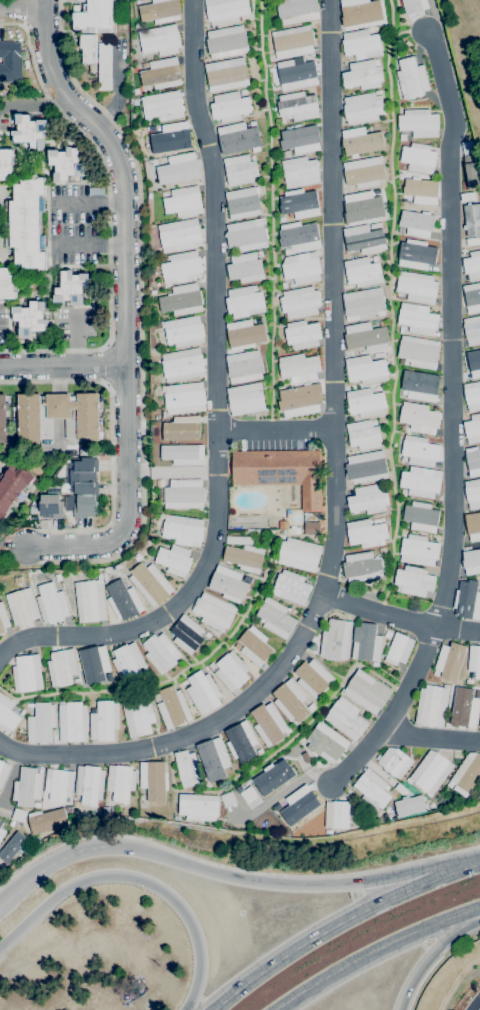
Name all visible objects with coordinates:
building: (414, 6)
road: (21, 9)
building: (225, 10)
building: (160, 11)
building: (297, 11)
building: (360, 12)
road: (24, 13)
building: (93, 17)
building: (375, 29)
building: (159, 40)
building: (226, 42)
building: (293, 42)
building: (407, 43)
building: (361, 44)
building: (88, 48)
building: (10, 61)
building: (104, 66)
building: (161, 73)
building: (226, 74)
building: (296, 74)
building: (362, 75)
building: (411, 78)
building: (0, 85)
building: (377, 91)
building: (135, 101)
road: (33, 106)
building: (162, 106)
building: (229, 106)
building: (297, 106)
building: (362, 108)
building: (419, 123)
building: (29, 131)
building: (238, 137)
building: (402, 137)
building: (171, 138)
building: (300, 139)
building: (362, 141)
building: (467, 145)
building: (286, 154)
building: (418, 158)
building: (6, 163)
building: (65, 164)
building: (178, 169)
building: (240, 170)
building: (300, 172)
building: (363, 172)
building: (472, 175)
building: (375, 191)
building: (164, 193)
building: (421, 193)
building: (467, 197)
road: (90, 200)
building: (183, 201)
building: (243, 202)
building: (299, 203)
building: (362, 207)
road: (109, 214)
building: (282, 219)
building: (472, 220)
building: (417, 223)
building: (27, 224)
building: (401, 231)
building: (179, 235)
building: (246, 235)
building: (298, 237)
building: (365, 238)
road: (89, 242)
building: (416, 254)
building: (374, 258)
road: (124, 262)
building: (472, 265)
building: (181, 267)
building: (245, 268)
building: (301, 268)
building: (362, 272)
building: (7, 284)
building: (71, 287)
building: (416, 287)
building: (472, 297)
building: (182, 300)
building: (244, 301)
building: (300, 302)
building: (363, 304)
building: (30, 318)
building: (417, 319)
building: (401, 329)
building: (472, 330)
building: (183, 331)
building: (245, 334)
building: (302, 334)
building: (366, 336)
building: (418, 352)
building: (378, 355)
building: (469, 362)
building: (182, 364)
road: (103, 365)
road: (63, 366)
building: (244, 366)
building: (298, 368)
building: (365, 369)
building: (420, 386)
building: (378, 388)
building: (472, 395)
building: (184, 398)
building: (245, 399)
building: (300, 400)
road: (215, 401)
building: (365, 402)
building: (57, 416)
building: (3, 417)
building: (418, 418)
road: (451, 421)
building: (472, 429)
building: (180, 430)
road: (275, 430)
building: (363, 434)
building: (419, 451)
building: (182, 456)
building: (472, 461)
building: (366, 467)
building: (280, 471)
road: (172, 473)
building: (80, 477)
building: (420, 481)
building: (160, 483)
building: (12, 486)
road: (334, 493)
building: (403, 493)
building: (472, 493)
building: (183, 494)
building: (367, 499)
building: (51, 505)
building: (82, 506)
road: (141, 515)
building: (420, 516)
building: (283, 525)
building: (473, 525)
building: (311, 528)
building: (182, 530)
building: (291, 530)
building: (250, 531)
building: (256, 531)
building: (366, 532)
building: (148, 540)
road: (68, 543)
road: (13, 544)
building: (382, 550)
building: (418, 550)
building: (244, 553)
building: (299, 554)
building: (137, 557)
building: (174, 560)
building: (471, 562)
building: (362, 566)
building: (118, 567)
building: (57, 577)
building: (247, 579)
building: (413, 581)
building: (150, 584)
building: (228, 584)
building: (291, 587)
building: (123, 600)
building: (467, 600)
building: (90, 601)
building: (51, 603)
building: (21, 607)
building: (213, 612)
road: (400, 617)
building: (275, 618)
building: (3, 619)
building: (186, 634)
building: (207, 635)
building: (335, 640)
building: (366, 643)
building: (236, 646)
building: (254, 646)
building: (398, 649)
building: (160, 653)
building: (449, 661)
building: (474, 661)
building: (128, 662)
building: (94, 664)
building: (61, 667)
building: (231, 671)
building: (26, 673)
building: (110, 677)
building: (312, 678)
building: (76, 680)
building: (183, 682)
building: (203, 692)
building: (367, 692)
building: (477, 694)
building: (290, 701)
building: (29, 705)
building: (432, 706)
building: (172, 707)
building: (310, 707)
building: (464, 709)
building: (21, 712)
building: (7, 715)
building: (138, 716)
building: (346, 718)
building: (104, 720)
building: (72, 722)
building: (40, 723)
building: (268, 724)
building: (479, 725)
road: (430, 738)
building: (241, 741)
building: (326, 743)
building: (259, 751)
building: (213, 759)
building: (394, 762)
building: (187, 769)
building: (3, 772)
building: (430, 773)
building: (466, 775)
building: (273, 777)
building: (153, 780)
road: (10, 781)
building: (120, 783)
building: (89, 784)
building: (59, 785)
building: (27, 787)
building: (372, 788)
road: (282, 792)
building: (249, 797)
building: (141, 798)
building: (227, 799)
building: (75, 804)
building: (36, 805)
building: (299, 805)
building: (197, 807)
building: (277, 807)
building: (410, 807)
building: (105, 810)
building: (337, 814)
building: (19, 815)
building: (175, 817)
building: (46, 821)
building: (1, 823)
building: (11, 823)
building: (327, 832)
building: (2, 833)
building: (37, 840)
building: (11, 846)
road: (472, 864)
road: (232, 867)
road: (221, 873)
road: (136, 879)
road: (332, 926)
road: (402, 949)
road: (374, 951)

